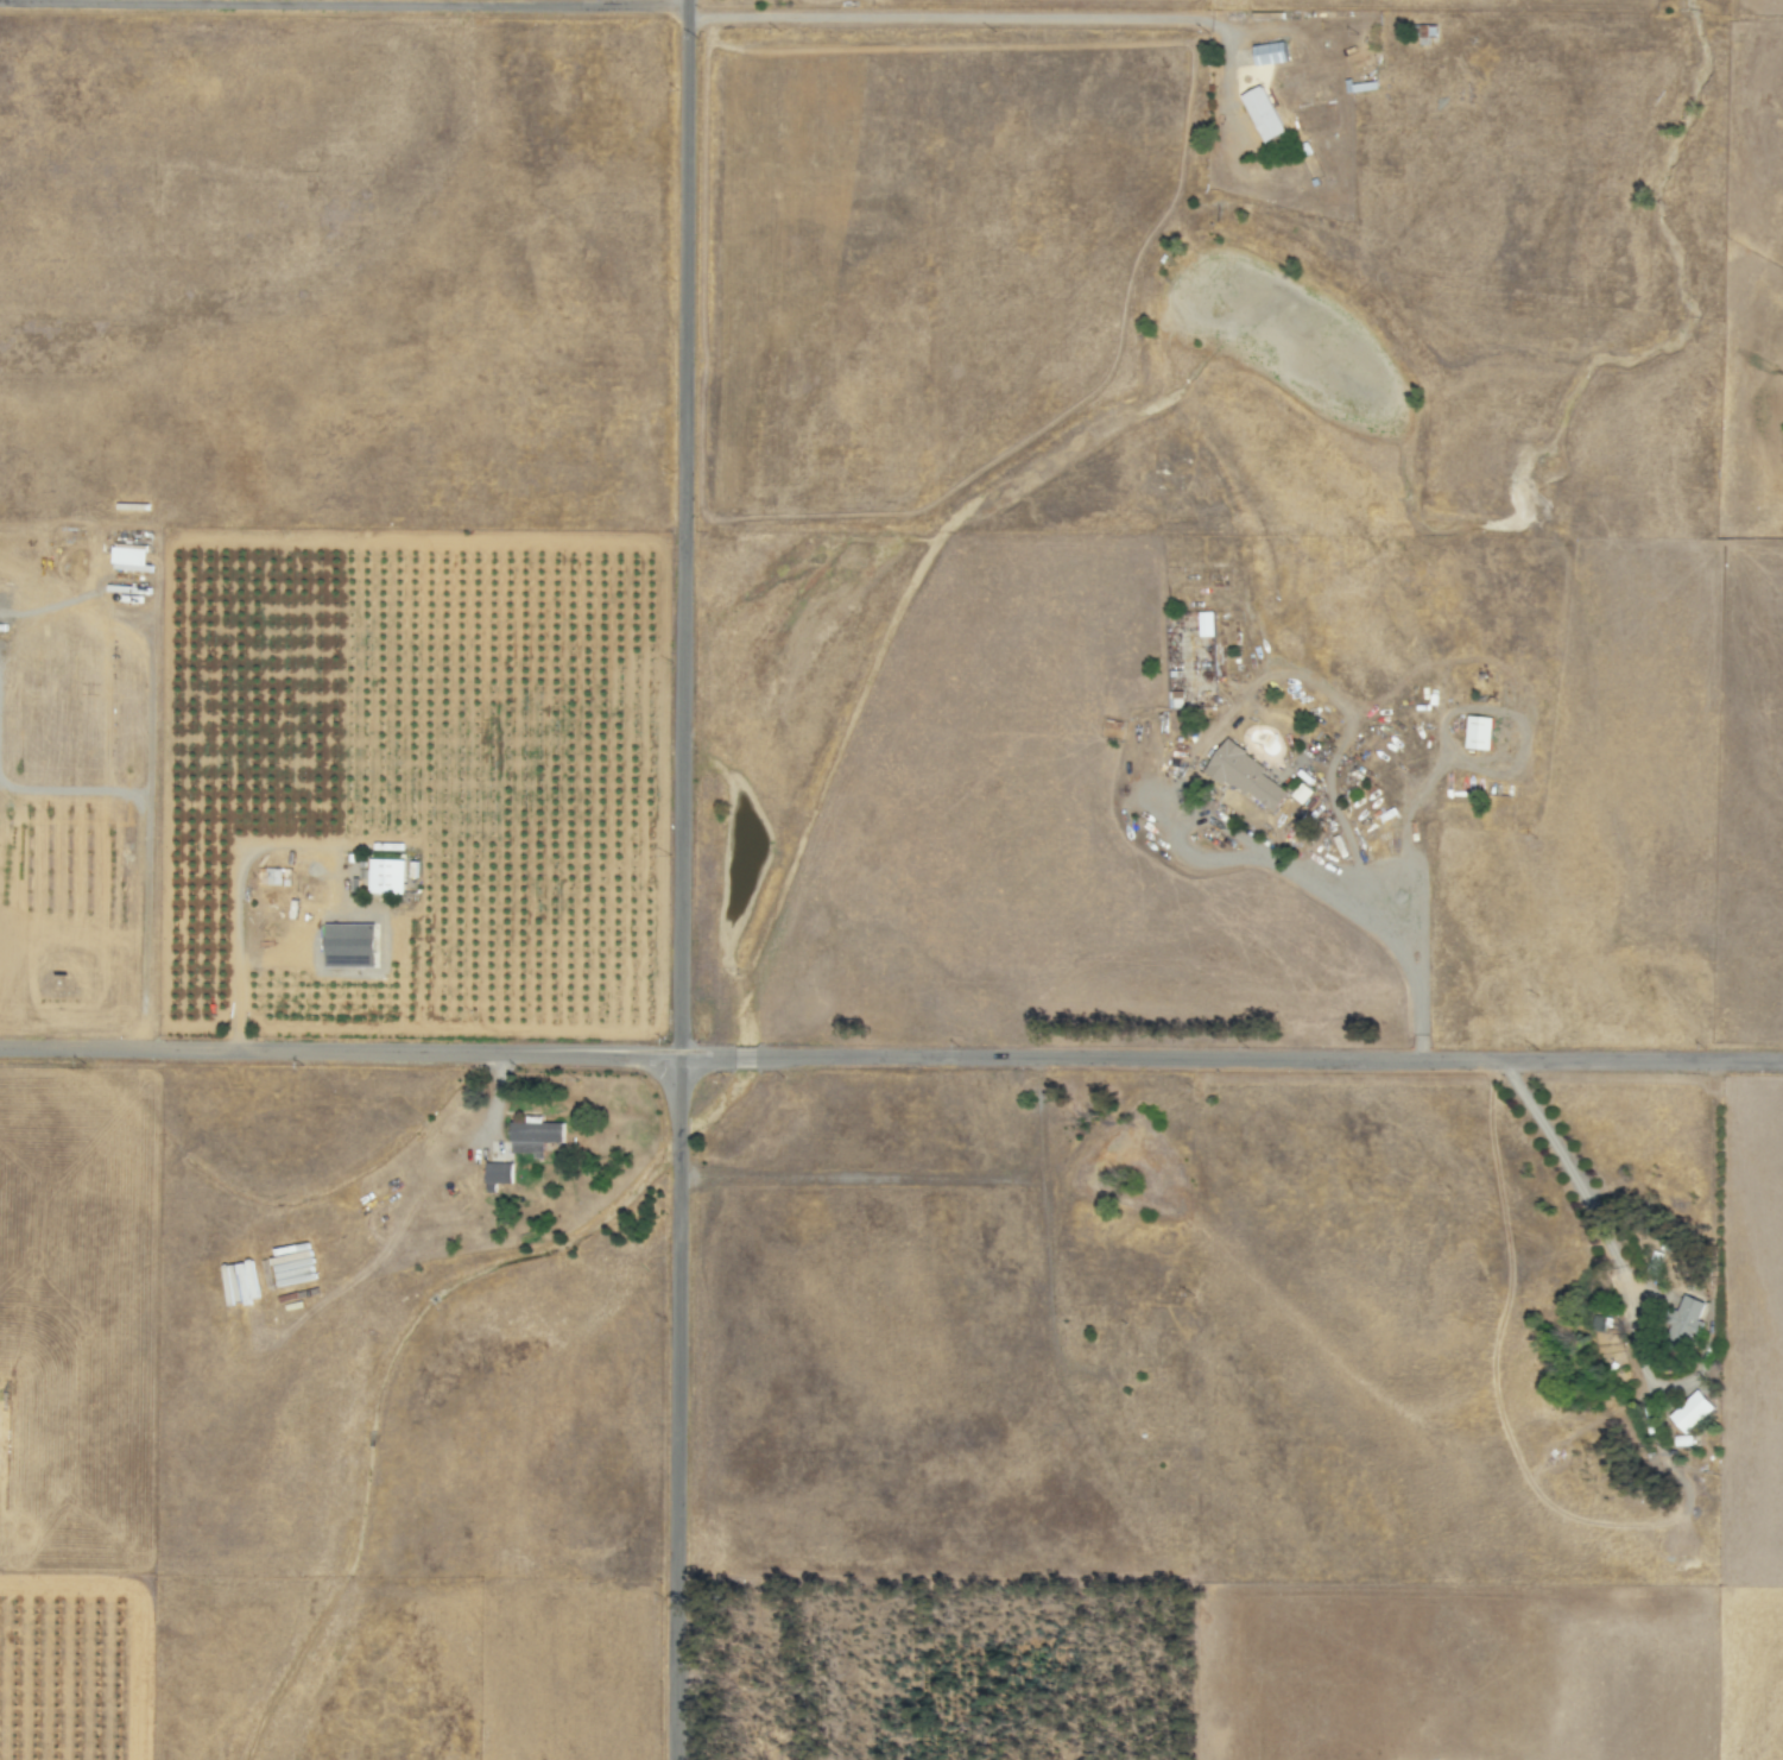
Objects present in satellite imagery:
road: (372, 1)
road: (685, 1)
road: (934, 17)
building: (1269, 53)
building: (1262, 113)
building: (128, 557)
building: (1203, 624)
building: (1478, 732)
building: (1245, 776)
road: (144, 850)
building: (385, 876)
road: (679, 881)
road: (891, 1058)
building: (532, 1136)
building: (497, 1175)
building: (1689, 1317)
wastewater plant: (1665, 1394)
building: (1692, 1411)

